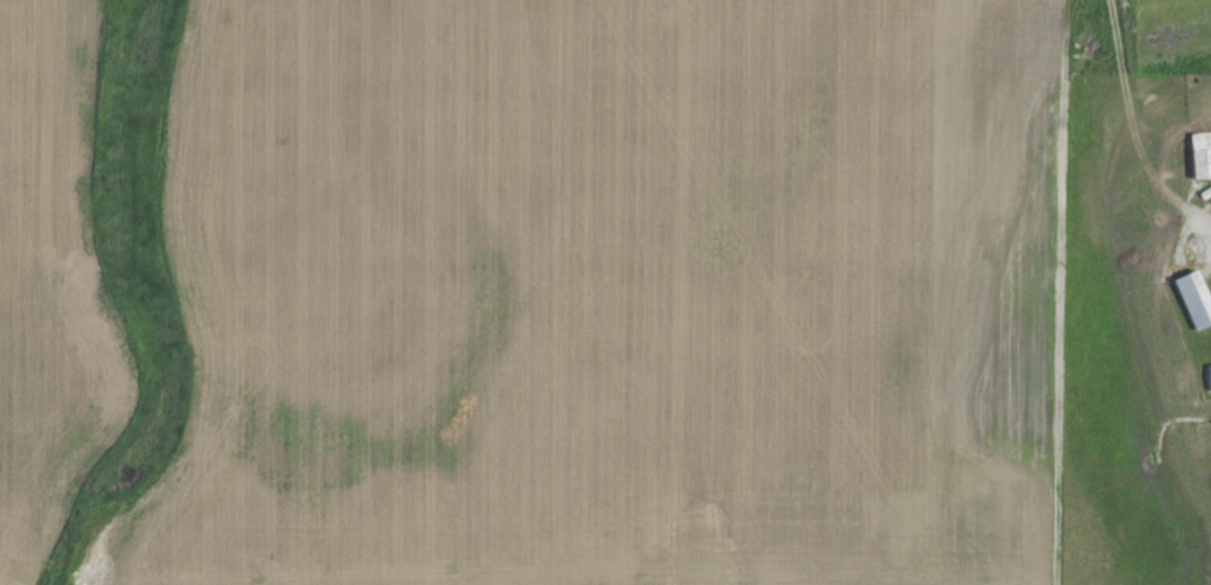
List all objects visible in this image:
road: (1200, 215)
building: (1188, 299)
building: (1206, 376)

